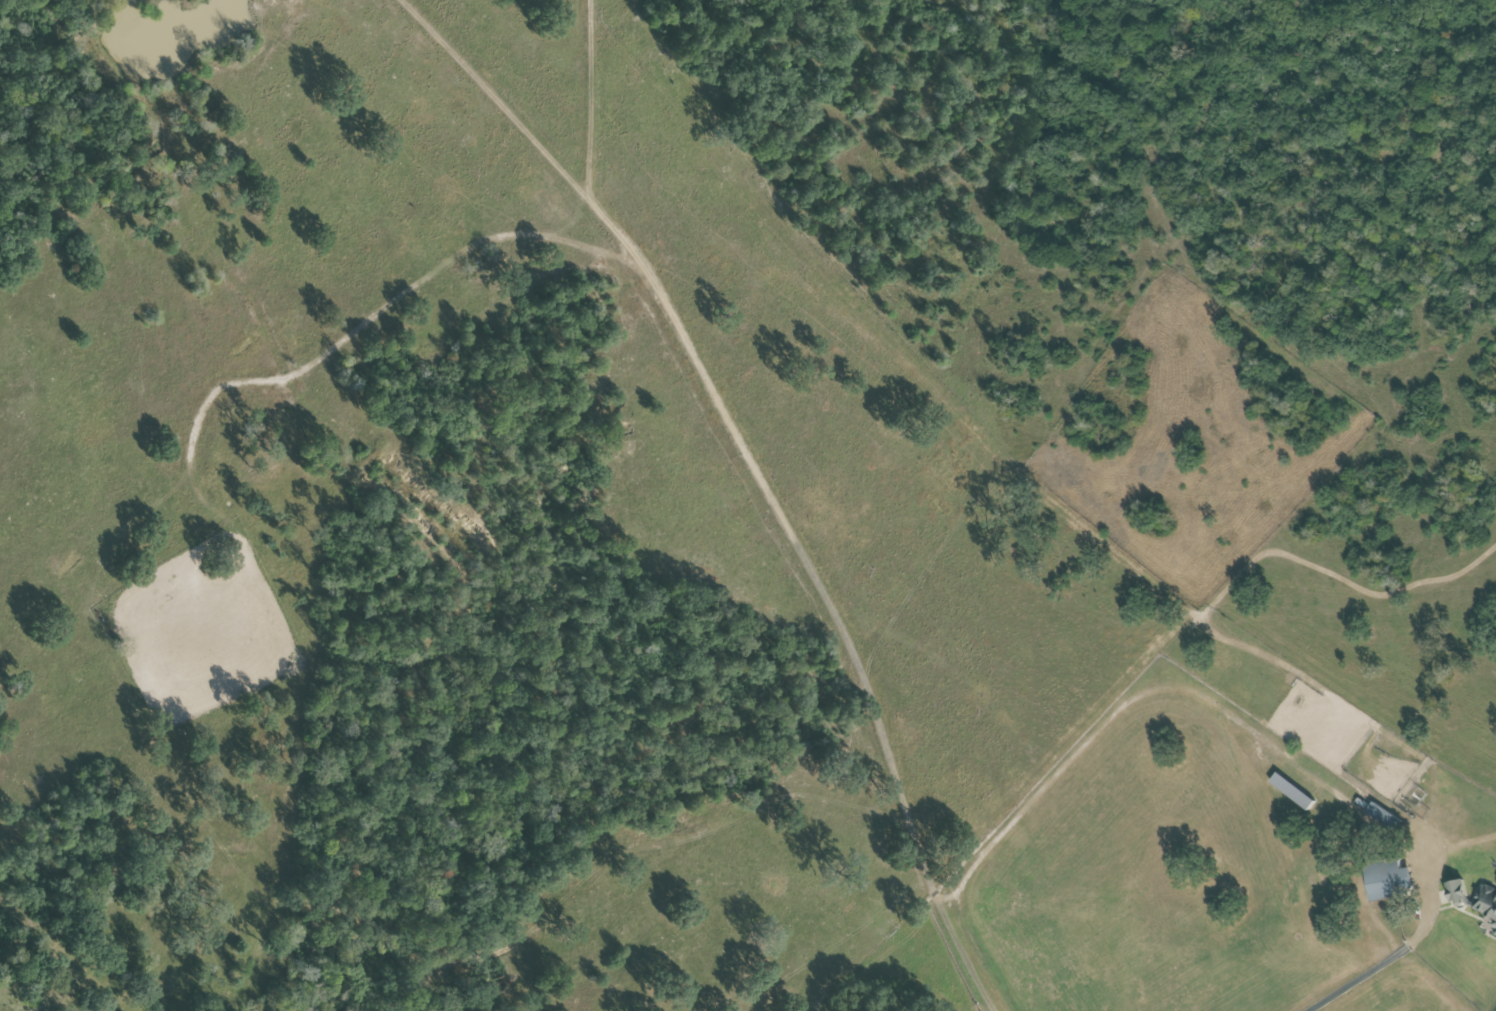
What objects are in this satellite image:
building: (1382, 816)
building: (1386, 879)
building: (1485, 902)

